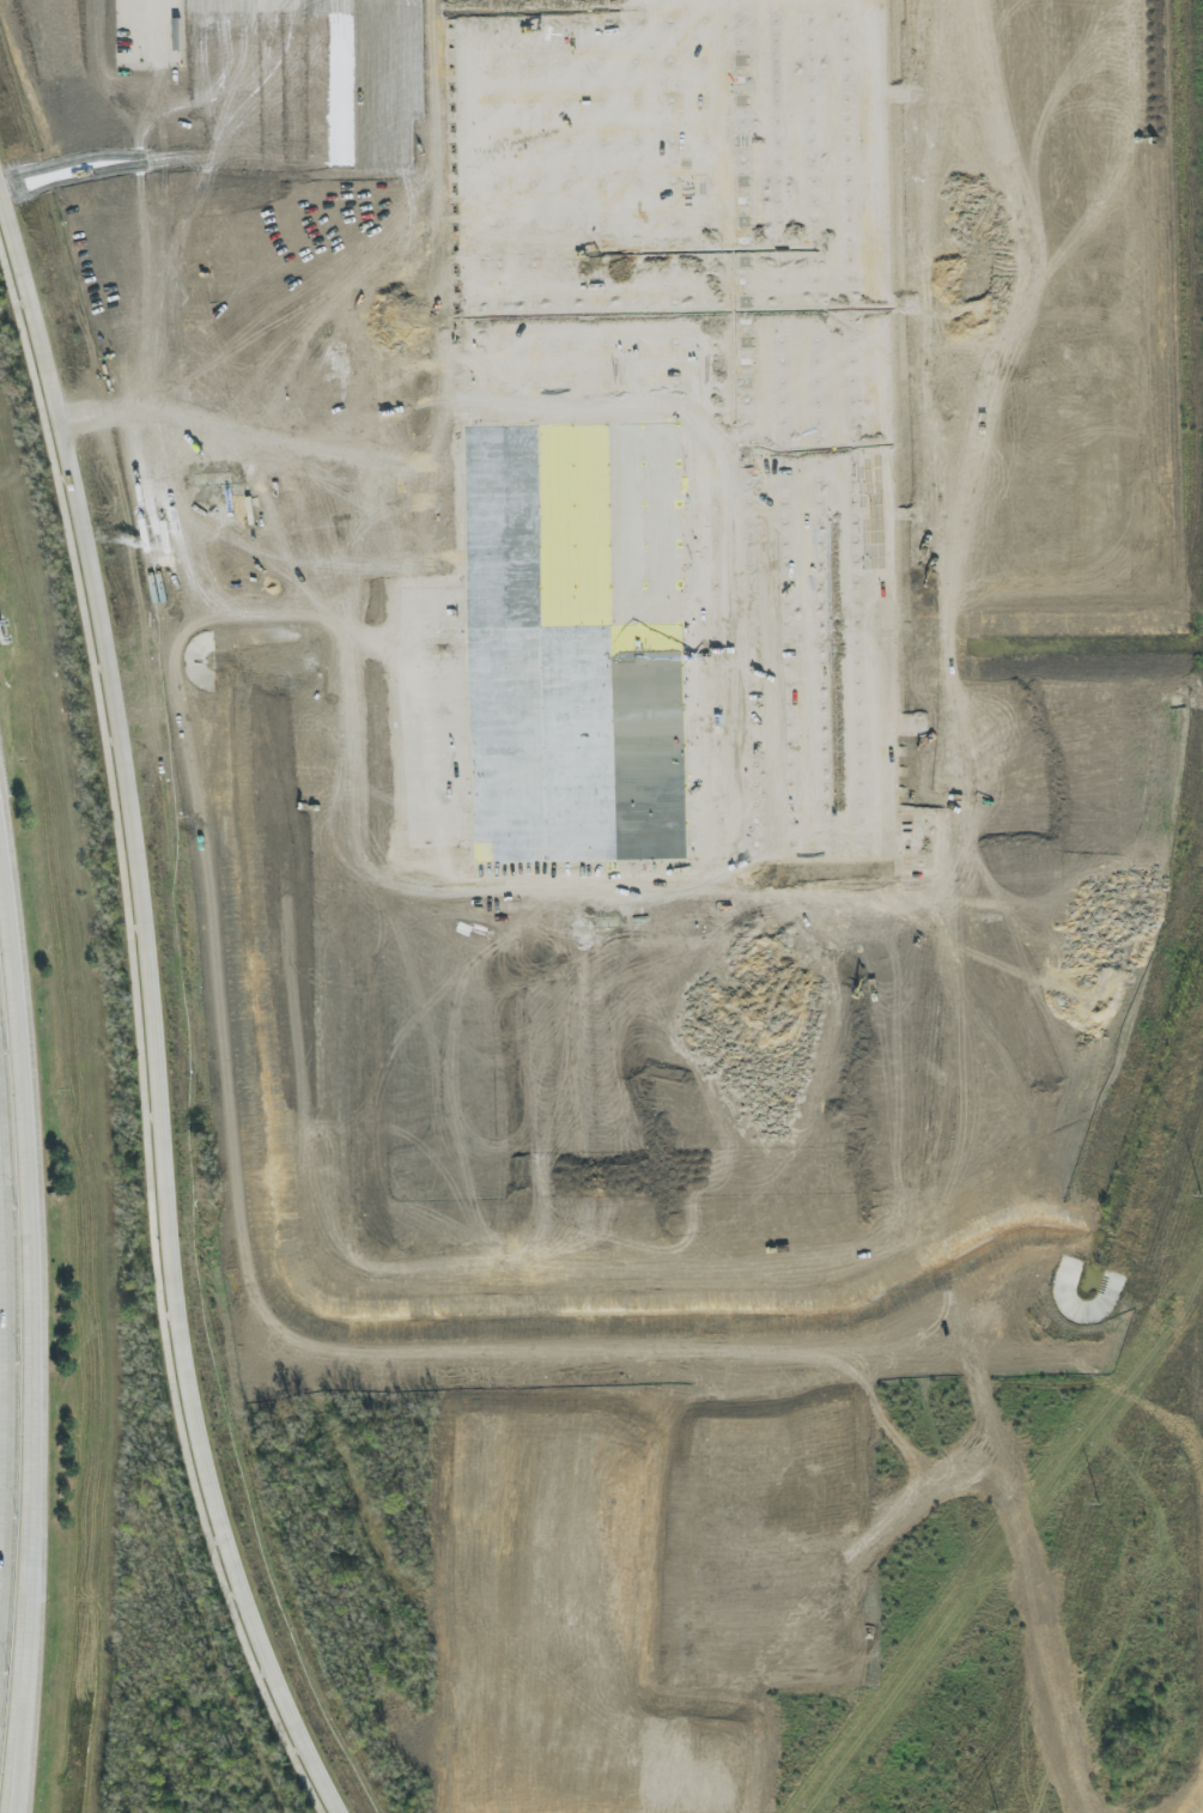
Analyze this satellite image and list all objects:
road: (302, 78)
road: (350, 78)
road: (399, 78)
road: (208, 79)
road: (259, 79)
road: (198, 158)
road: (405, 321)
road: (214, 335)
road: (354, 336)
road: (263, 338)
road: (308, 338)
road: (1101, 445)
road: (255, 520)
road: (363, 705)
road: (317, 707)
road: (356, 895)
road: (183, 952)
road: (988, 1000)
road: (152, 1009)
road: (370, 1014)
road: (372, 1180)
road: (34, 1345)
road: (2, 1403)
road: (309, 1722)

